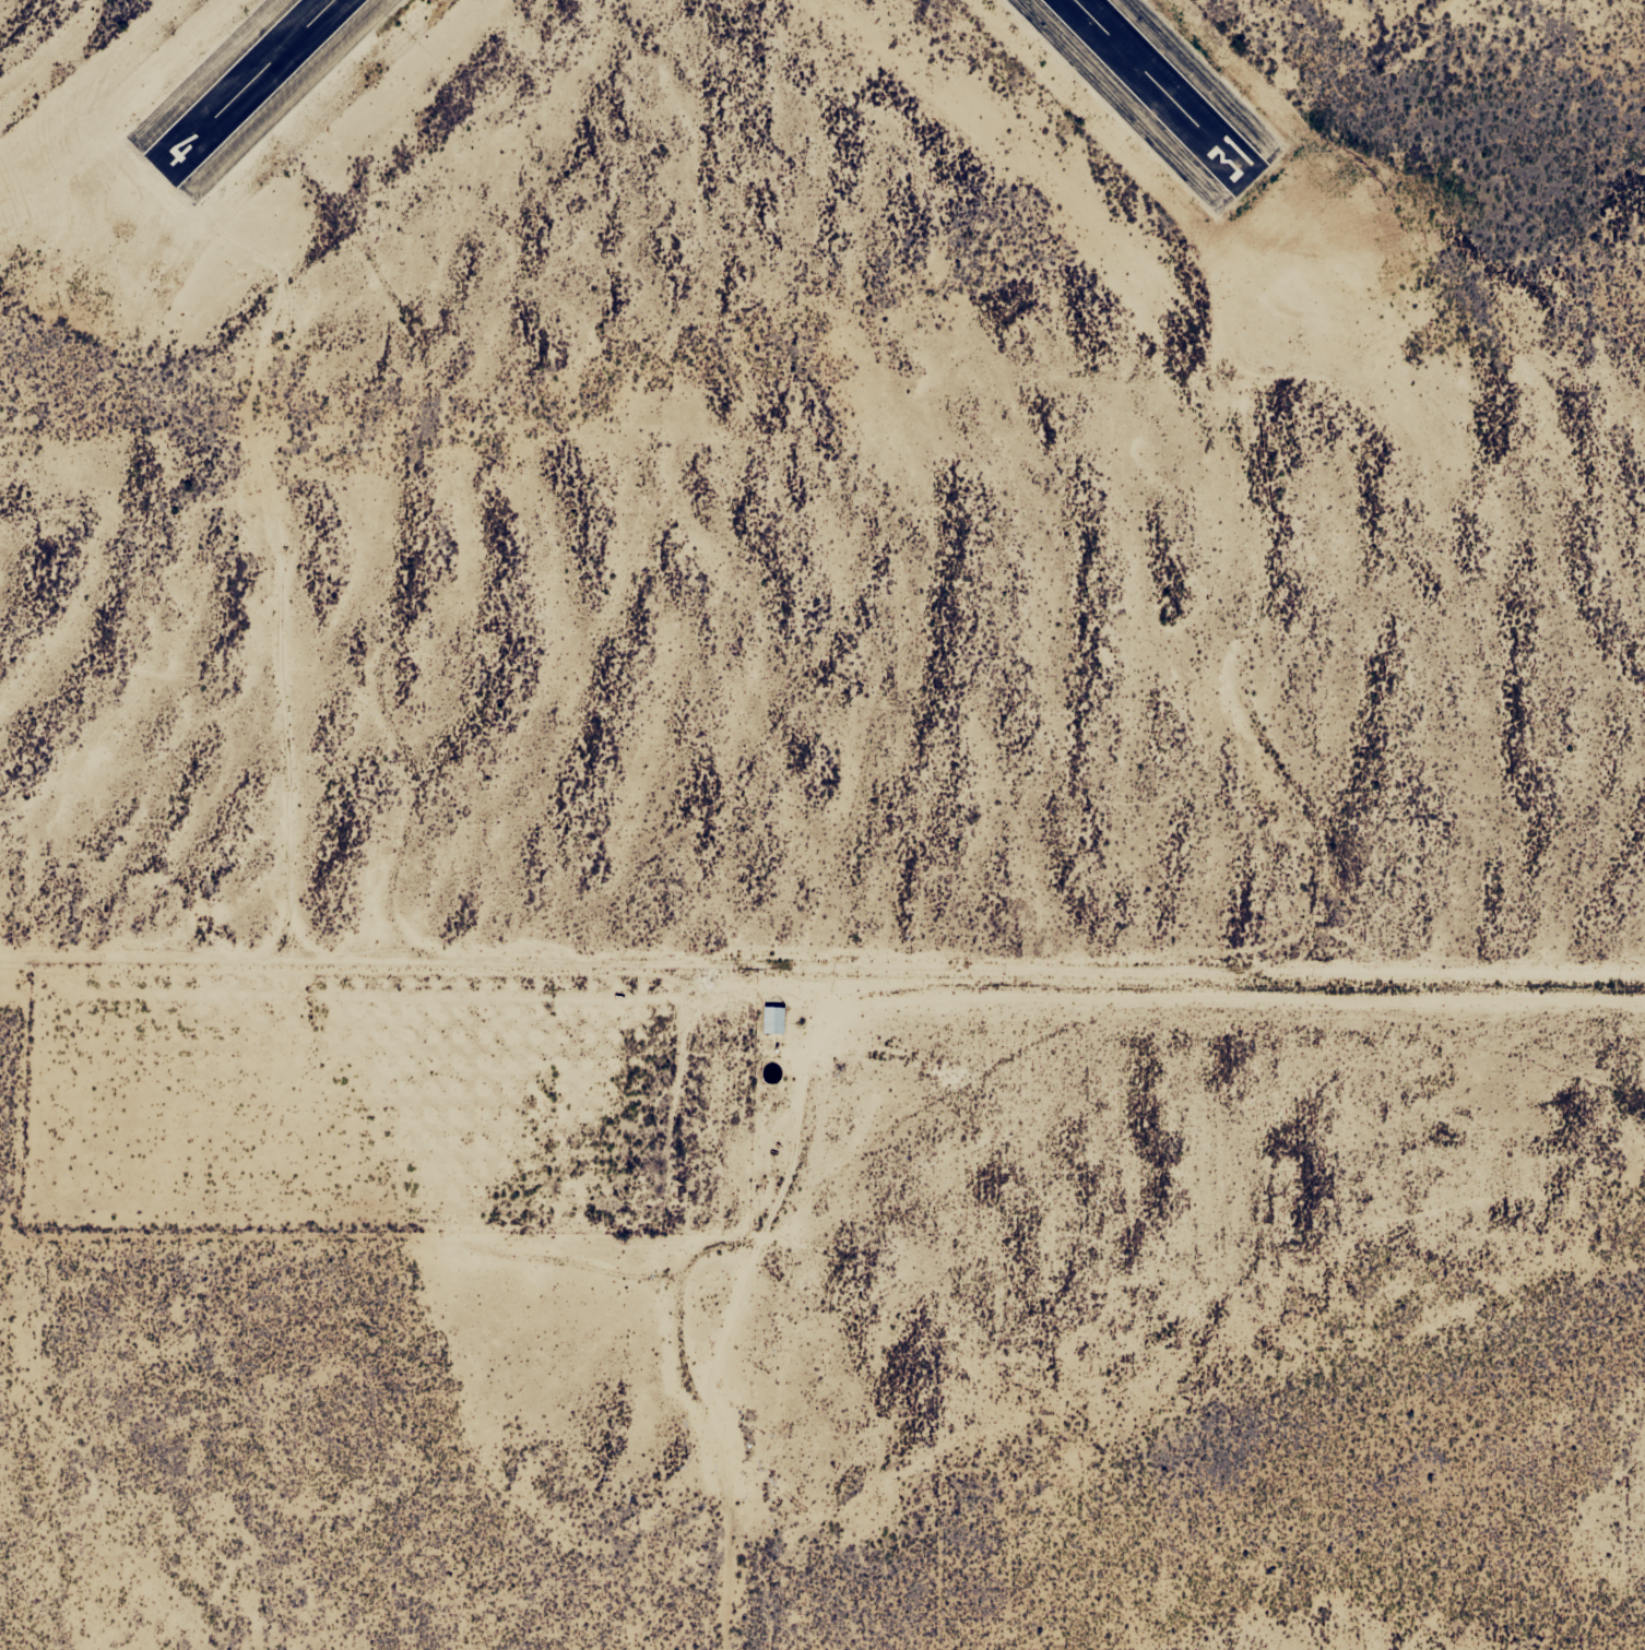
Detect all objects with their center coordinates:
airport runway: (248, 85)
airport runway: (1162, 92)
road: (822, 1011)
building: (772, 1021)

